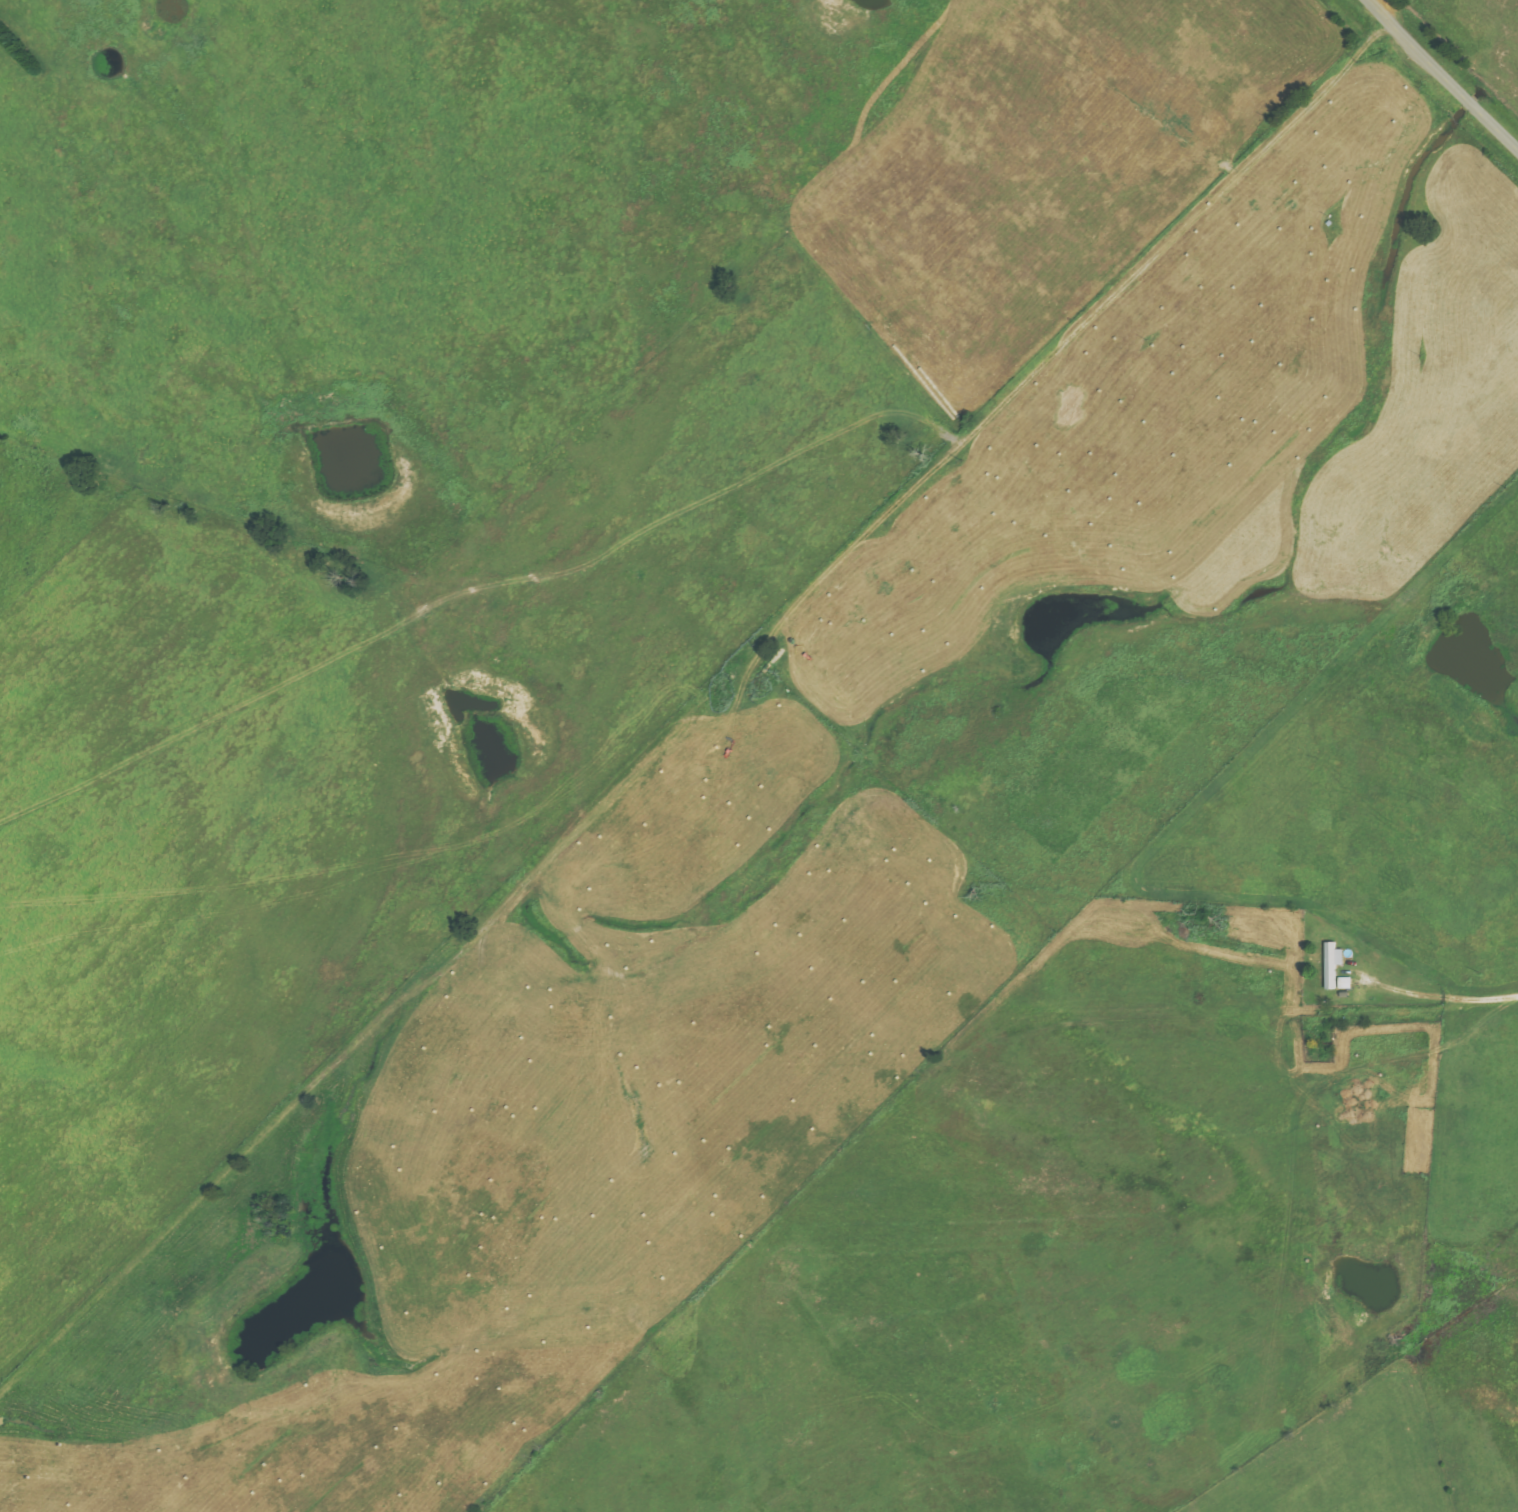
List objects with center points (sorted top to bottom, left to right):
road: (1443, 75)
building: (1331, 963)

